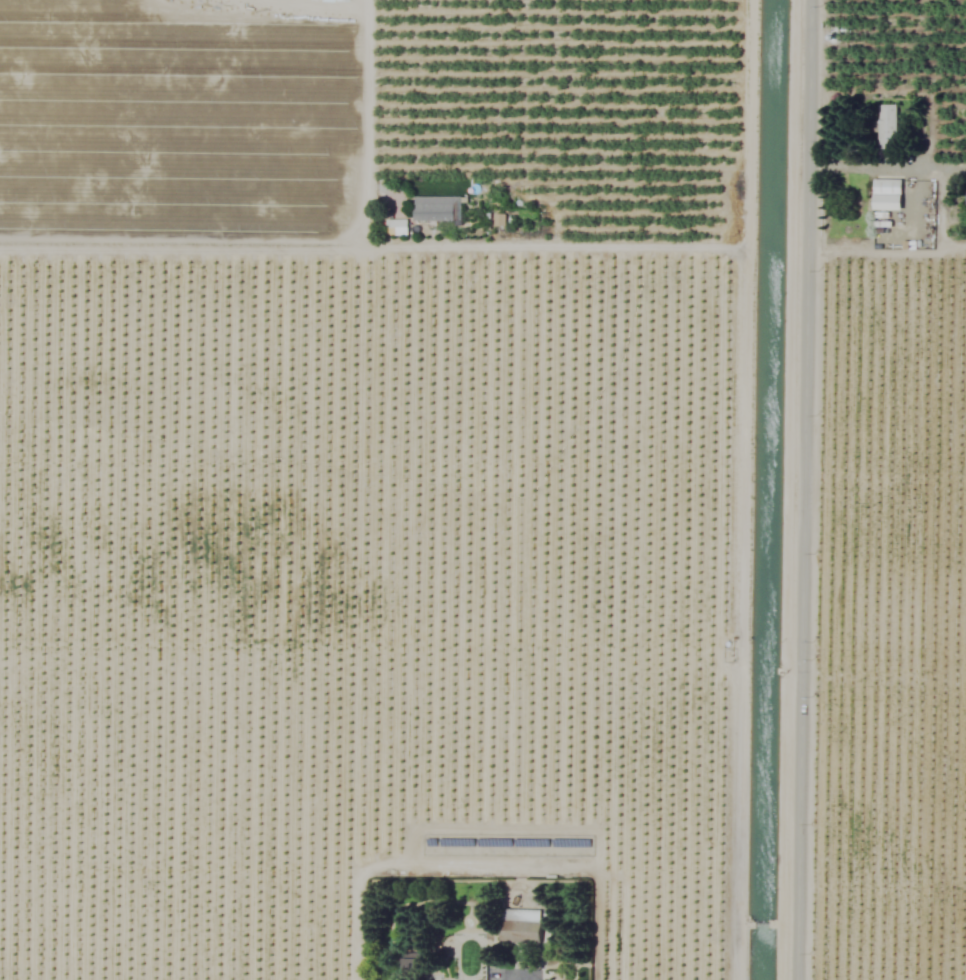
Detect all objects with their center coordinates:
building: (885, 127)
road: (887, 164)
building: (886, 195)
building: (965, 198)
building: (436, 209)
building: (498, 220)
road: (298, 241)
road: (544, 249)
road: (886, 253)
road: (743, 489)
road: (803, 489)
crop: (483, 490)
building: (519, 926)
building: (415, 964)

